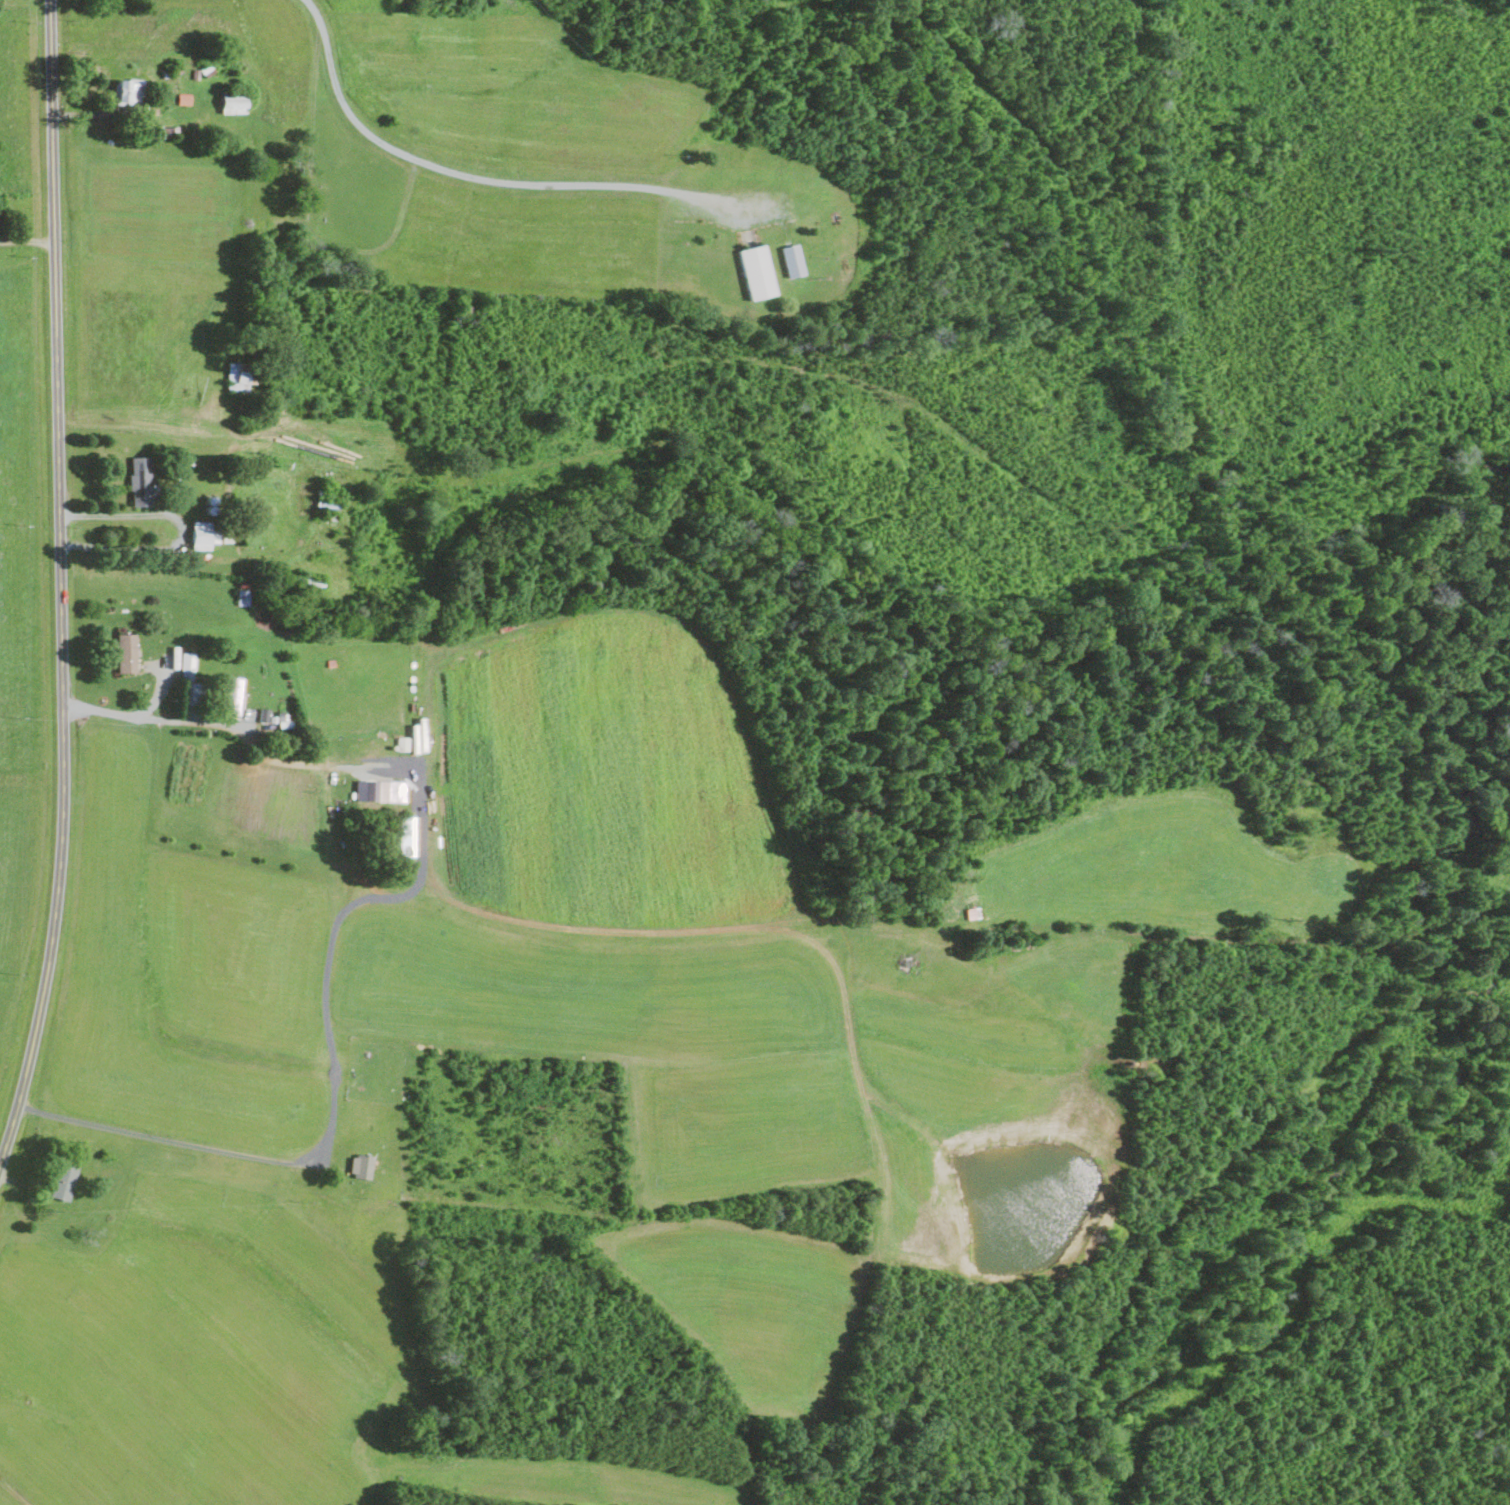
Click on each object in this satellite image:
building: (129, 91)
building: (185, 99)
building: (234, 103)
road: (90, 112)
road: (482, 178)
road: (25, 241)
building: (793, 261)
building: (758, 273)
building: (238, 376)
building: (142, 480)
building: (309, 501)
road: (180, 530)
building: (204, 534)
road: (58, 582)
building: (126, 652)
building: (188, 662)
building: (233, 694)
road: (214, 724)
building: (403, 743)
building: (381, 790)
road: (168, 1141)
building: (362, 1166)
building: (64, 1180)

